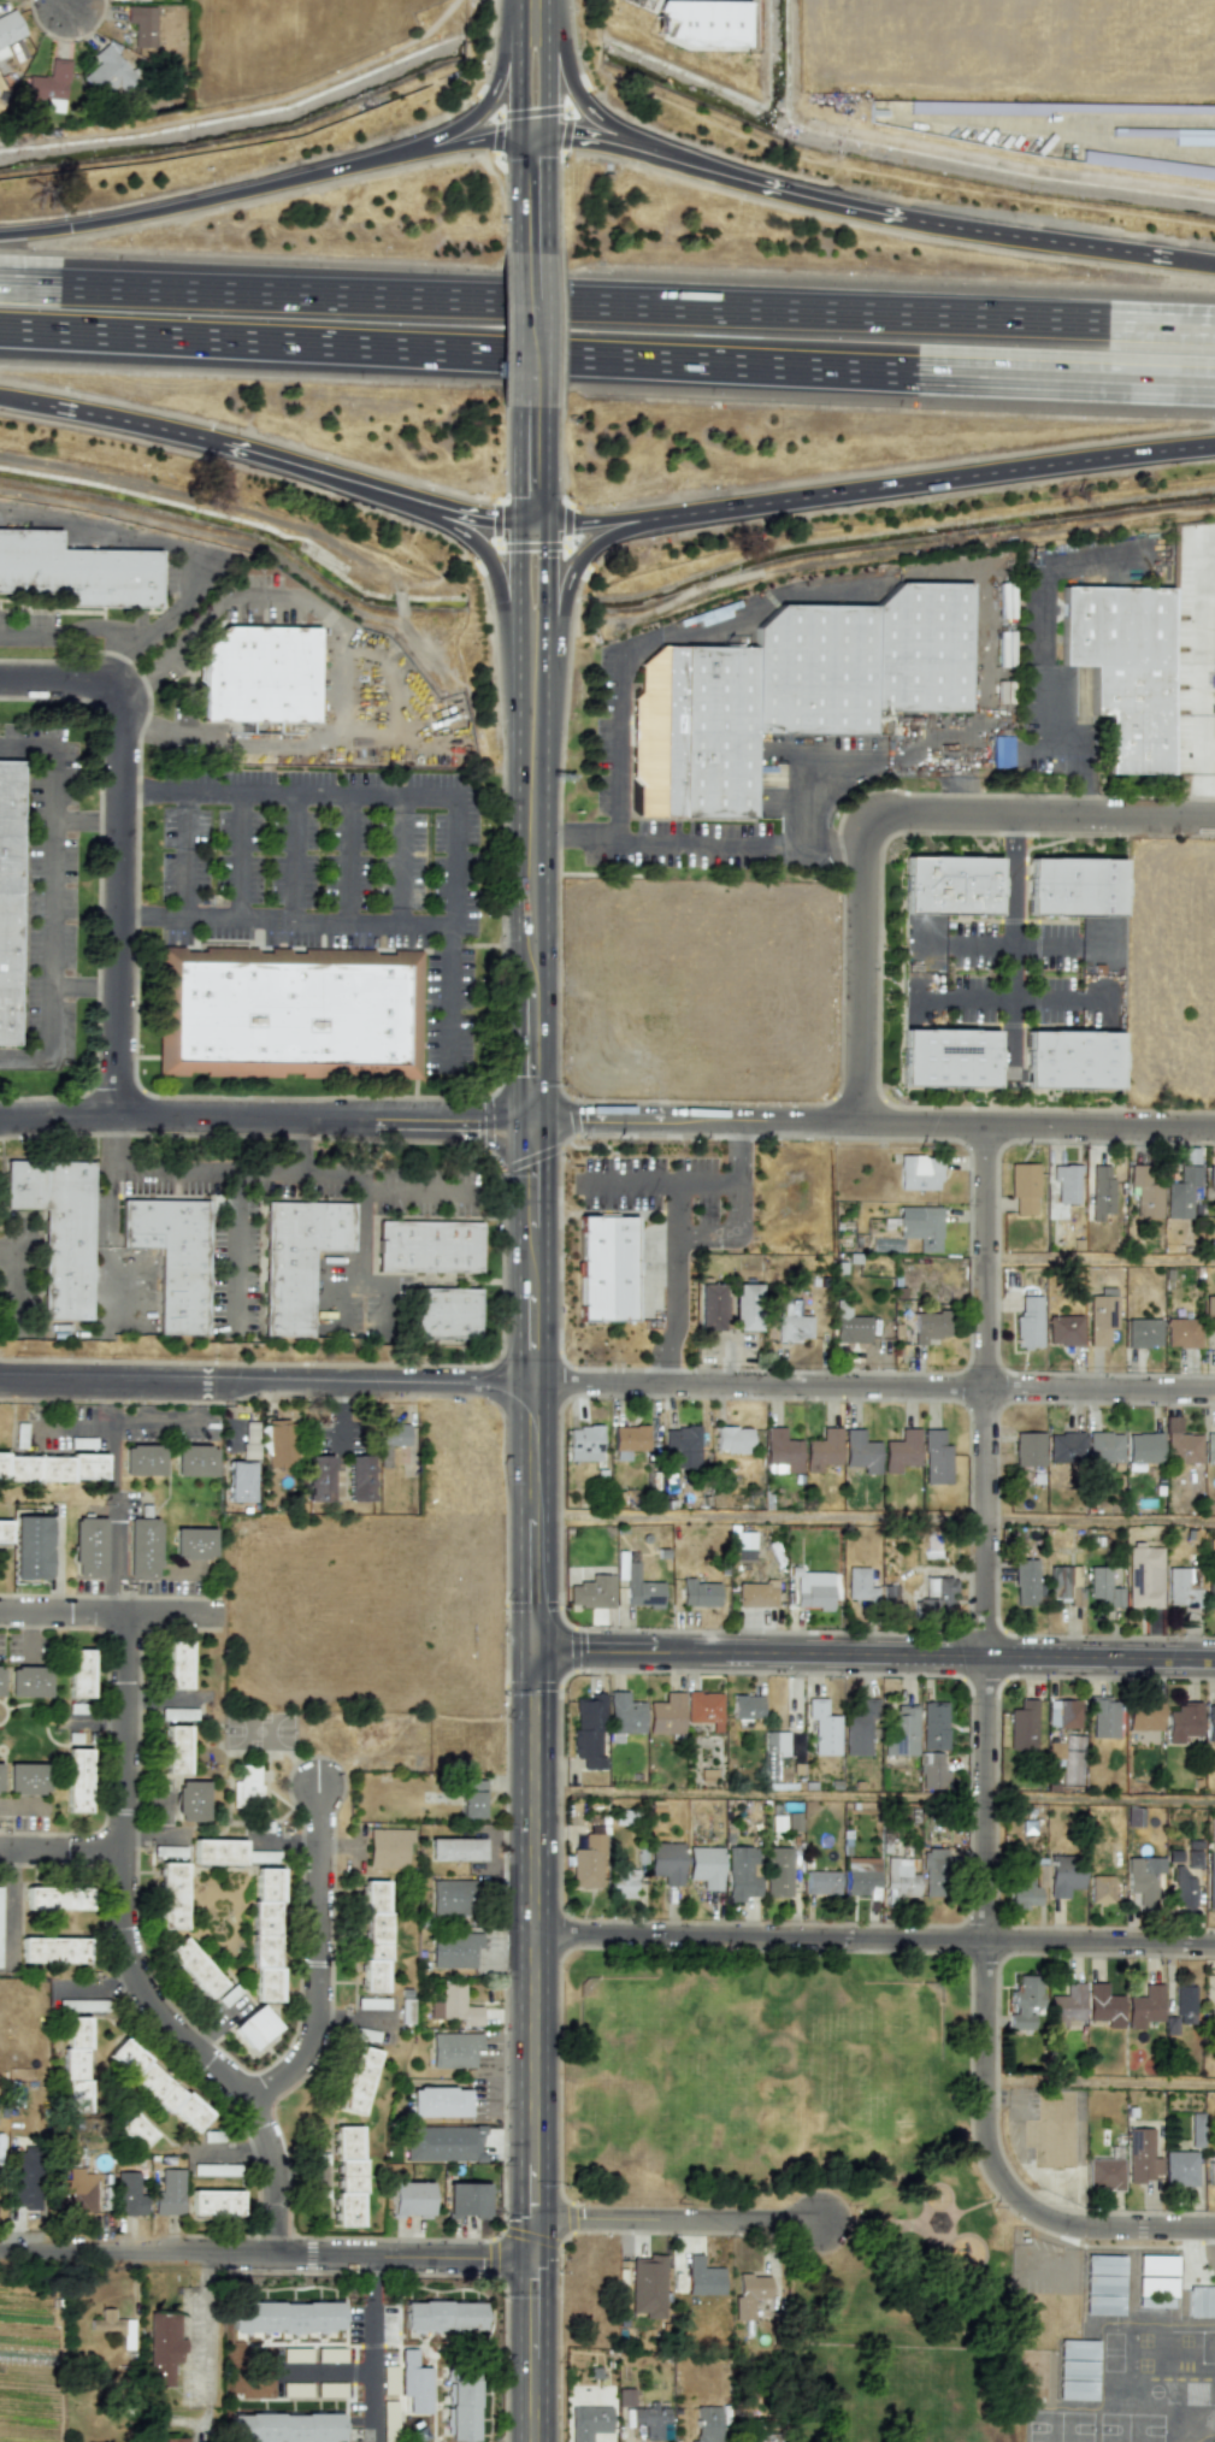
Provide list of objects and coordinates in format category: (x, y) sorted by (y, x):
road: (71, 4)
road: (655, 5)
road: (530, 19)
building: (703, 22)
building: (141, 24)
building: (8, 30)
road: (573, 45)
building: (16, 51)
building: (110, 72)
building: (49, 87)
road: (531, 90)
road: (609, 123)
building: (1180, 135)
road: (417, 140)
road: (629, 148)
building: (1148, 165)
road: (265, 184)
road: (532, 196)
road: (943, 226)
road: (1192, 263)
road: (607, 290)
road: (533, 330)
road: (607, 367)
road: (7, 400)
road: (118, 418)
road: (533, 464)
road: (309, 467)
road: (963, 477)
road: (465, 513)
road: (624, 517)
traffic signals: (535, 520)
road: (102, 531)
road: (934, 547)
building: (76, 571)
road: (566, 595)
road: (175, 602)
road: (502, 613)
road: (98, 623)
road: (23, 637)
road: (533, 649)
road: (1202, 651)
road: (134, 663)
building: (1123, 668)
building: (255, 676)
road: (79, 680)
building: (1214, 686)
building: (801, 692)
road: (1049, 715)
road: (394, 724)
road: (341, 727)
road: (24, 747)
road: (1211, 748)
road: (618, 749)
building: (1001, 751)
road: (1064, 756)
road: (1207, 783)
road: (1079, 788)
road: (354, 789)
road: (1149, 797)
road: (533, 808)
road: (1039, 816)
road: (85, 818)
road: (576, 839)
road: (774, 842)
road: (830, 842)
road: (190, 853)
road: (240, 853)
road: (296, 854)
road: (350, 854)
road: (402, 855)
parking lot: (330, 874)
building: (948, 885)
building: (1072, 889)
building: (6, 898)
road: (49, 903)
road: (287, 919)
road: (120, 921)
road: (1013, 943)
road: (1011, 946)
road: (860, 968)
road: (84, 984)
road: (453, 987)
road: (1013, 999)
building: (287, 1017)
road: (24, 1058)
building: (946, 1058)
building: (1071, 1058)
road: (607, 1117)
road: (494, 1140)
road: (119, 1144)
road: (300, 1144)
road: (179, 1168)
road: (308, 1172)
building: (918, 1172)
building: (1211, 1176)
building: (1064, 1182)
road: (655, 1184)
building: (1022, 1187)
road: (415, 1188)
building: (1101, 1192)
building: (1145, 1192)
building: (1181, 1192)
building: (1214, 1209)
building: (920, 1226)
building: (54, 1229)
road: (685, 1233)
road: (367, 1234)
road: (238, 1239)
road: (530, 1244)
road: (105, 1247)
building: (426, 1247)
building: (169, 1258)
building: (295, 1261)
road: (1099, 1261)
building: (875, 1266)
building: (604, 1268)
road: (17, 1281)
road: (331, 1286)
road: (387, 1292)
building: (709, 1306)
building: (745, 1306)
building: (448, 1314)
building: (1101, 1319)
building: (1028, 1322)
building: (791, 1323)
building: (850, 1326)
building: (930, 1327)
building: (1064, 1331)
building: (1143, 1332)
building: (1181, 1332)
road: (727, 1363)
road: (607, 1385)
road: (76, 1426)
building: (394, 1434)
building: (732, 1439)
building: (249, 1440)
building: (627, 1440)
building: (279, 1441)
building: (583, 1443)
building: (1180, 1444)
building: (680, 1446)
building: (1103, 1446)
building: (1066, 1447)
building: (1027, 1449)
building: (1142, 1449)
building: (1209, 1449)
building: (822, 1450)
building: (780, 1451)
building: (901, 1451)
building: (861, 1452)
building: (936, 1457)
building: (142, 1459)
building: (194, 1461)
building: (52, 1467)
road: (116, 1471)
building: (358, 1477)
building: (318, 1479)
building: (241, 1481)
road: (872, 1522)
building: (4, 1530)
building: (193, 1543)
building: (744, 1545)
building: (31, 1547)
building: (88, 1547)
building: (142, 1547)
building: (1143, 1577)
building: (1027, 1581)
building: (637, 1583)
building: (859, 1585)
building: (1062, 1587)
building: (1102, 1587)
building: (1182, 1587)
building: (810, 1588)
building: (592, 1592)
building: (698, 1593)
building: (755, 1594)
building: (934, 1597)
building: (1209, 1598)
road: (112, 1610)
road: (984, 1652)
road: (871, 1654)
building: (177, 1664)
building: (78, 1673)
building: (0, 1680)
building: (28, 1681)
building: (703, 1706)
building: (745, 1706)
building: (624, 1713)
building: (666, 1713)
building: (1063, 1713)
building: (1103, 1717)
road: (529, 1722)
building: (1182, 1722)
building: (1210, 1724)
building: (933, 1726)
building: (1021, 1726)
road: (106, 1728)
building: (822, 1728)
building: (859, 1729)
building: (588, 1730)
building: (900, 1730)
building: (775, 1742)
building: (176, 1748)
building: (1055, 1750)
building: (0, 1765)
building: (931, 1770)
building: (778, 1775)
building: (25, 1777)
building: (76, 1780)
building: (246, 1786)
building: (471, 1798)
road: (872, 1798)
building: (190, 1800)
road: (165, 1816)
road: (155, 1834)
road: (60, 1846)
building: (388, 1847)
building: (454, 1848)
building: (218, 1852)
building: (666, 1862)
building: (586, 1863)
building: (704, 1866)
building: (777, 1871)
building: (934, 1872)
building: (741, 1874)
building: (1063, 1875)
building: (861, 1876)
building: (900, 1878)
building: (1185, 1878)
building: (1142, 1880)
building: (821, 1882)
building: (623, 1883)
building: (1026, 1888)
building: (1099, 1889)
building: (171, 1895)
building: (450, 1897)
building: (55, 1898)
road: (7, 1906)
building: (265, 1934)
building: (374, 1935)
road: (872, 1939)
building: (53, 1950)
building: (453, 1950)
road: (132, 1956)
road: (318, 1956)
building: (194, 1968)
road: (98, 1989)
building: (1024, 2001)
building: (1184, 2004)
building: (1066, 2005)
building: (1103, 2005)
building: (454, 2006)
building: (1144, 2006)
building: (1213, 2017)
building: (253, 2027)
building: (453, 2049)
building: (75, 2065)
building: (356, 2080)
road: (1101, 2084)
building: (157, 2086)
building: (438, 2101)
road: (529, 2118)
building: (135, 2127)
building: (1049, 2129)
building: (442, 2143)
building: (1140, 2155)
building: (1179, 2167)
building: (1104, 2173)
building: (347, 2176)
building: (20, 2178)
building: (72, 2192)
building: (167, 2192)
building: (128, 2194)
building: (408, 2199)
building: (466, 2199)
building: (214, 2202)
road: (674, 2222)
road: (1101, 2224)
road: (264, 2252)
building: (1155, 2265)
building: (702, 2277)
building: (1102, 2284)
building: (647, 2285)
building: (1152, 2290)
building: (751, 2295)
building: (1201, 2301)
building: (284, 2316)
building: (441, 2316)
road: (204, 2324)
building: (113, 2326)
building: (163, 2347)
road: (374, 2348)
building: (1077, 2349)
building: (1075, 2370)
building: (414, 2383)
building: (1075, 2389)
building: (624, 2397)
building: (462, 2403)
building: (651, 2420)
building: (586, 2422)
building: (706, 2423)
building: (285, 2428)
building: (176, 2440)

